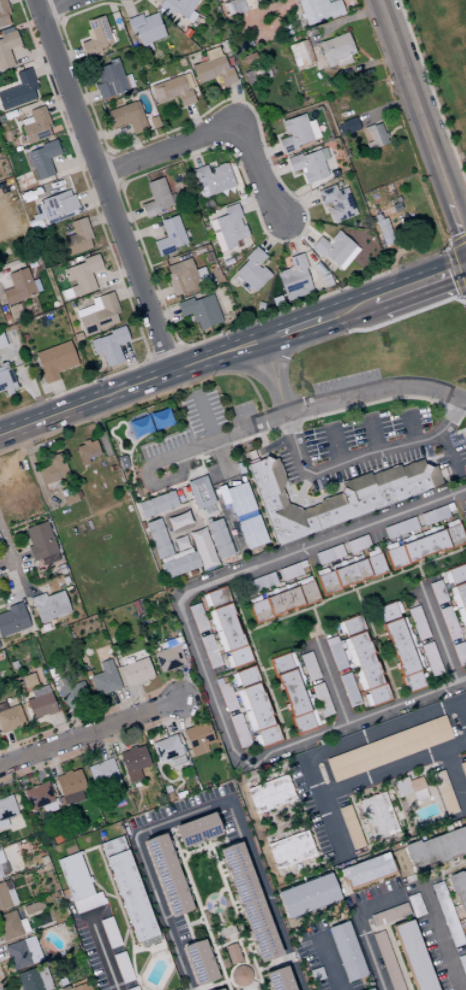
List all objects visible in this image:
road: (52, 5)
building: (238, 6)
building: (179, 8)
building: (319, 10)
building: (3, 15)
building: (144, 30)
building: (96, 36)
building: (6, 49)
building: (335, 51)
building: (299, 54)
park: (444, 57)
building: (212, 68)
building: (108, 80)
building: (173, 90)
building: (18, 91)
road: (431, 95)
building: (126, 117)
road: (421, 120)
building: (34, 125)
building: (347, 126)
building: (297, 133)
building: (374, 136)
road: (169, 150)
building: (42, 159)
building: (310, 165)
road: (255, 173)
building: (211, 179)
road: (104, 183)
building: (155, 198)
building: (337, 203)
building: (56, 207)
building: (227, 228)
building: (169, 236)
building: (77, 238)
building: (335, 250)
building: (251, 271)
building: (80, 277)
building: (180, 277)
building: (295, 278)
road: (419, 283)
building: (19, 287)
road: (346, 309)
building: (200, 311)
building: (97, 314)
road: (307, 323)
road: (276, 333)
building: (1, 342)
building: (108, 346)
building: (54, 361)
road: (280, 369)
road: (244, 370)
road: (237, 374)
road: (268, 378)
building: (5, 379)
road: (128, 385)
road: (341, 409)
road: (205, 417)
road: (276, 417)
building: (159, 420)
building: (139, 427)
road: (410, 427)
road: (62, 431)
road: (372, 433)
building: (465, 442)
road: (335, 444)
parking lot: (367, 445)
building: (87, 451)
road: (449, 452)
road: (360, 455)
road: (31, 462)
road: (129, 464)
road: (180, 465)
road: (201, 469)
building: (53, 471)
road: (192, 472)
road: (171, 486)
road: (302, 488)
building: (201, 492)
road: (218, 492)
building: (69, 495)
building: (335, 496)
building: (239, 500)
building: (464, 502)
building: (158, 504)
road: (216, 506)
road: (165, 511)
building: (137, 512)
building: (434, 515)
building: (179, 520)
building: (464, 522)
building: (401, 528)
road: (206, 532)
road: (166, 533)
building: (251, 534)
building: (158, 538)
building: (220, 538)
building: (42, 543)
building: (181, 543)
building: (358, 544)
building: (424, 544)
building: (203, 548)
road: (459, 548)
road: (465, 550)
building: (329, 554)
building: (176, 555)
road: (439, 555)
road: (11, 559)
road: (21, 559)
road: (418, 563)
road: (6, 564)
building: (180, 565)
road: (399, 570)
building: (290, 571)
building: (191, 572)
building: (351, 572)
road: (388, 574)
road: (420, 574)
road: (380, 577)
building: (262, 582)
road: (362, 584)
road: (350, 588)
road: (355, 588)
building: (458, 589)
road: (29, 591)
building: (438, 592)
road: (331, 595)
road: (15, 596)
building: (283, 599)
road: (4, 604)
road: (312, 604)
building: (49, 605)
road: (294, 611)
road: (282, 616)
building: (198, 617)
road: (371, 618)
building: (13, 619)
road: (315, 619)
building: (128, 622)
building: (418, 622)
road: (263, 623)
building: (450, 623)
building: (227, 627)
building: (176, 631)
road: (436, 631)
road: (377, 636)
road: (375, 646)
road: (382, 647)
building: (402, 647)
road: (194, 648)
building: (210, 651)
building: (336, 653)
building: (460, 653)
building: (170, 655)
building: (432, 659)
building: (364, 660)
road: (256, 661)
building: (13, 664)
building: (309, 666)
building: (136, 668)
road: (390, 668)
road: (265, 669)
building: (52, 672)
building: (105, 679)
road: (329, 680)
road: (183, 682)
road: (272, 688)
road: (397, 688)
building: (349, 689)
road: (125, 692)
building: (294, 692)
building: (72, 693)
building: (227, 697)
building: (322, 700)
building: (40, 702)
building: (255, 706)
road: (280, 709)
road: (462, 712)
road: (180, 713)
road: (167, 717)
building: (10, 718)
road: (74, 720)
road: (73, 723)
road: (59, 727)
road: (287, 729)
building: (240, 730)
road: (89, 731)
road: (116, 738)
building: (199, 739)
road: (100, 743)
road: (9, 746)
road: (334, 747)
building: (166, 748)
building: (388, 748)
road: (89, 749)
road: (52, 761)
building: (134, 762)
road: (393, 767)
road: (36, 768)
building: (463, 768)
building: (102, 772)
road: (455, 776)
road: (179, 784)
building: (410, 784)
building: (70, 787)
building: (445, 792)
road: (138, 793)
building: (270, 794)
building: (40, 797)
road: (294, 801)
building: (6, 809)
road: (198, 809)
road: (305, 815)
road: (296, 816)
building: (379, 816)
road: (289, 820)
road: (404, 821)
road: (272, 825)
building: (351, 826)
road: (304, 828)
building: (199, 829)
building: (65, 835)
building: (437, 848)
road: (89, 849)
building: (290, 849)
building: (41, 853)
building: (0, 858)
building: (44, 859)
building: (47, 866)
building: (3, 869)
building: (368, 871)
road: (108, 872)
building: (169, 874)
road: (25, 875)
road: (92, 880)
building: (78, 883)
building: (460, 887)
building: (129, 891)
building: (309, 895)
road: (226, 896)
building: (7, 897)
road: (231, 897)
building: (55, 900)
road: (118, 900)
building: (251, 901)
building: (415, 904)
road: (199, 906)
building: (32, 907)
building: (390, 914)
building: (447, 914)
road: (122, 917)
road: (199, 921)
building: (465, 921)
building: (12, 925)
road: (359, 926)
road: (380, 927)
road: (129, 928)
building: (110, 932)
building: (225, 932)
road: (0, 937)
road: (441, 938)
road: (228, 943)
road: (121, 946)
road: (102, 951)
building: (348, 951)
building: (22, 952)
building: (233, 953)
building: (414, 955)
road: (2, 956)
road: (396, 958)
building: (387, 960)
road: (327, 961)
building: (201, 962)
building: (462, 964)
building: (123, 967)
building: (241, 975)
building: (34, 979)
building: (281, 979)
road: (2, 983)
building: (66, 987)
building: (81, 987)
building: (221, 989)
building: (371, 989)

